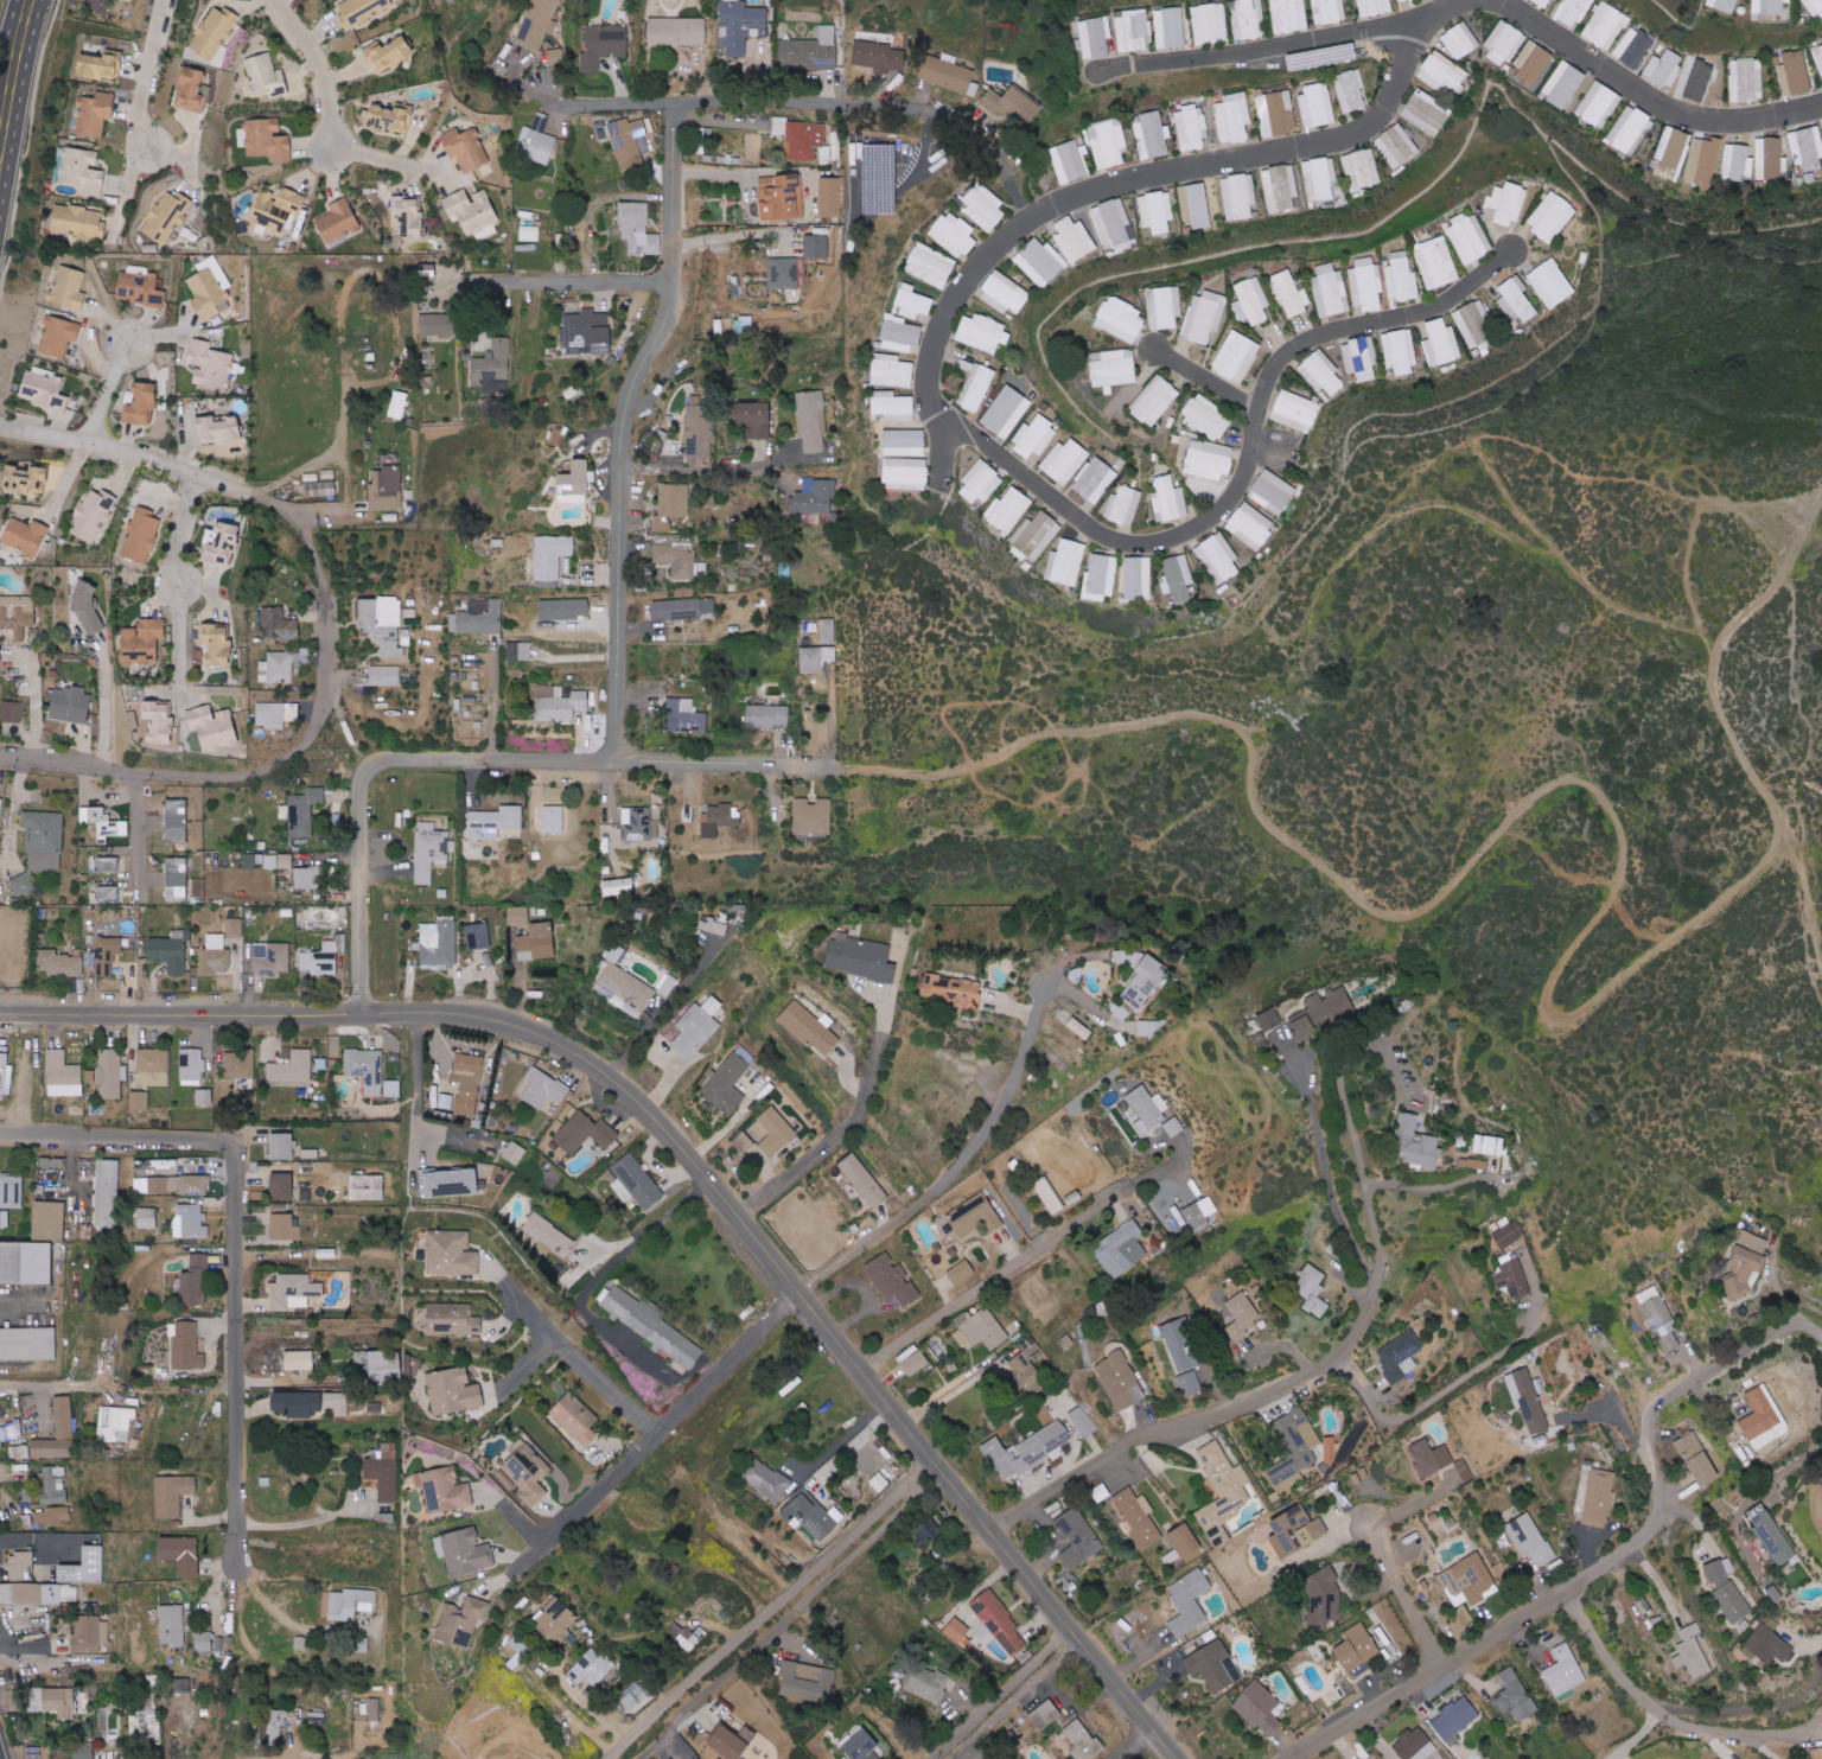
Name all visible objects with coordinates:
building: (1400, 0)
building: (1721, 5)
building: (98, 6)
building: (1376, 6)
road: (1469, 7)
building: (1769, 7)
building: (1814, 8)
building: (361, 11)
building: (1330, 11)
building: (1574, 11)
building: (1289, 15)
building: (1249, 19)
building: (539, 23)
building: (1211, 24)
building: (743, 25)
building: (1606, 26)
building: (1173, 30)
building: (677, 31)
building: (1133, 31)
building: (215, 33)
road: (11, 34)
building: (1096, 37)
building: (1460, 40)
building: (1503, 43)
building: (604, 45)
building: (1635, 47)
building: (810, 50)
building: (389, 53)
building: (503, 56)
building: (878, 56)
building: (1818, 56)
building: (556, 57)
building: (1531, 63)
building: (101, 64)
road: (320, 68)
building: (1665, 68)
building: (1441, 72)
building: (1795, 74)
road: (13, 76)
building: (949, 76)
building: (266, 77)
building: (1699, 78)
road: (149, 79)
building: (1747, 81)
building: (1563, 84)
building: (192, 89)
building: (1350, 90)
building: (1013, 104)
building: (1317, 104)
building: (1598, 104)
building: (94, 113)
building: (1426, 113)
building: (1278, 114)
road: (771, 116)
building: (390, 117)
building: (1235, 117)
building: (1192, 127)
building: (1630, 130)
building: (1153, 135)
building: (799, 138)
building: (268, 140)
building: (537, 140)
building: (627, 140)
building: (1109, 142)
building: (1397, 145)
building: (466, 148)
building: (1807, 148)
building: (1769, 159)
road: (388, 160)
building: (1071, 161)
building: (1737, 162)
building: (1362, 168)
building: (82, 171)
building: (1319, 178)
building: (880, 179)
building: (1280, 187)
road: (1106, 189)
building: (1241, 196)
building: (779, 197)
building: (830, 197)
building: (1509, 204)
building: (1195, 205)
building: (985, 209)
building: (278, 210)
building: (1157, 211)
building: (473, 213)
building: (409, 215)
building: (167, 217)
building: (1552, 217)
building: (338, 221)
building: (78, 222)
building: (1113, 223)
building: (639, 229)
building: (529, 232)
building: (954, 234)
building: (1470, 238)
building: (1074, 240)
building: (816, 247)
building: (529, 249)
building: (1040, 262)
building: (1436, 263)
building: (931, 265)
building: (426, 269)
building: (783, 273)
building: (1401, 278)
road: (562, 280)
building: (1552, 283)
building: (140, 287)
building: (69, 288)
building: (210, 288)
building: (1006, 291)
building: (1331, 291)
building: (1292, 293)
building: (1251, 300)
building: (913, 301)
building: (1516, 301)
building: (1164, 307)
building: (1204, 317)
building: (1121, 319)
building: (1473, 324)
building: (437, 325)
building: (587, 332)
building: (982, 333)
building: (902, 334)
building: (58, 336)
building: (1440, 343)
building: (1400, 351)
building: (1236, 356)
building: (1361, 358)
building: (210, 364)
building: (492, 367)
building: (1114, 369)
building: (892, 371)
building: (1321, 374)
road: (1208, 378)
building: (977, 387)
building: (45, 389)
road: (115, 395)
building: (1155, 401)
building: (141, 403)
building: (400, 403)
building: (893, 407)
building: (1006, 412)
building: (1294, 412)
building: (1206, 416)
building: (756, 419)
building: (811, 422)
building: (219, 429)
road: (625, 431)
building: (697, 432)
building: (1033, 438)
building: (1065, 460)
building: (1209, 460)
road: (1247, 465)
road: (701, 470)
building: (905, 473)
building: (26, 479)
building: (1095, 480)
building: (980, 482)
building: (575, 483)
building: (318, 485)
building: (387, 487)
building: (1272, 492)
building: (814, 499)
building: (1168, 501)
building: (671, 504)
building: (1123, 504)
building: (1009, 510)
building: (91, 515)
building: (1250, 525)
road: (180, 528)
building: (141, 535)
building: (26, 536)
building: (1034, 536)
building: (223, 543)
building: (550, 555)
building: (1218, 555)
building: (677, 560)
building: (1065, 562)
building: (1100, 576)
building: (1178, 579)
building: (683, 608)
building: (565, 610)
building: (17, 614)
building: (410, 617)
building: (478, 617)
building: (382, 623)
building: (279, 625)
building: (827, 631)
road: (326, 633)
road: (178, 640)
building: (144, 642)
building: (217, 644)
building: (520, 651)
building: (0, 654)
building: (816, 658)
building: (278, 668)
building: (384, 676)
road: (492, 703)
building: (558, 703)
building: (71, 705)
road: (103, 705)
building: (12, 712)
building: (276, 714)
building: (767, 715)
building: (684, 716)
building: (133, 720)
road: (830, 720)
building: (160, 722)
building: (212, 727)
road: (1191, 739)
building: (0, 809)
building: (304, 811)
building: (814, 817)
building: (553, 818)
building: (720, 818)
building: (177, 821)
building: (495, 822)
building: (103, 823)
building: (638, 824)
road: (249, 826)
road: (136, 836)
building: (40, 846)
building: (431, 852)
building: (279, 861)
building: (253, 862)
building: (108, 865)
building: (307, 878)
building: (177, 880)
building: (618, 886)
building: (108, 894)
building: (518, 916)
building: (714, 926)
building: (234, 928)
building: (478, 936)
building: (542, 939)
building: (439, 942)
building: (170, 952)
building: (108, 955)
building: (215, 955)
building: (324, 957)
building: (272, 958)
building: (861, 958)
building: (59, 963)
building: (1076, 976)
building: (1143, 983)
building: (624, 986)
building: (667, 986)
building: (954, 992)
building: (1119, 1011)
building: (1323, 1013)
building: (1269, 1020)
building: (696, 1027)
building: (809, 1028)
building: (1079, 1028)
building: (238, 1064)
building: (153, 1066)
building: (191, 1066)
building: (292, 1067)
building: (367, 1067)
building: (112, 1072)
building: (5, 1075)
building: (63, 1075)
building: (467, 1082)
building: (726, 1084)
road: (416, 1086)
building: (393, 1088)
building: (543, 1088)
building: (204, 1096)
building: (139, 1100)
building: (445, 1101)
building: (1148, 1108)
building: (1173, 1127)
road: (846, 1128)
building: (776, 1130)
building: (585, 1133)
building: (744, 1141)
building: (282, 1145)
building: (1416, 1145)
building: (1487, 1145)
building: (515, 1152)
building: (310, 1153)
road: (955, 1166)
building: (50, 1168)
road: (697, 1174)
building: (864, 1180)
building: (450, 1181)
building: (635, 1181)
building: (173, 1184)
road: (1400, 1184)
building: (282, 1185)
building: (11, 1192)
building: (107, 1193)
road: (1333, 1200)
building: (975, 1216)
building: (1179, 1216)
building: (1196, 1216)
building: (147, 1217)
building: (4, 1218)
building: (49, 1219)
building: (191, 1221)
building: (284, 1223)
building: (544, 1236)
building: (1506, 1236)
road: (232, 1239)
building: (1753, 1241)
building: (1121, 1249)
building: (326, 1253)
building: (451, 1253)
building: (26, 1262)
road: (1021, 1266)
building: (962, 1272)
building: (1744, 1273)
road: (600, 1275)
building: (1512, 1277)
building: (892, 1279)
building: (195, 1280)
building: (1312, 1289)
building: (293, 1290)
road: (19, 1305)
building: (1242, 1309)
building: (453, 1319)
building: (1659, 1320)
building: (652, 1325)
building: (985, 1328)
building: (1599, 1338)
building: (27, 1343)
building: (1179, 1344)
building: (186, 1346)
building: (1400, 1356)
building: (361, 1358)
building: (299, 1359)
building: (916, 1362)
building: (384, 1365)
building: (1023, 1366)
road: (59, 1381)
building: (1120, 1381)
building: (1189, 1382)
road: (600, 1383)
building: (453, 1391)
road: (953, 1395)
road: (1435, 1397)
building: (1528, 1401)
building: (298, 1403)
building: (375, 1407)
building: (575, 1417)
building: (1764, 1419)
building: (1083, 1421)
building: (115, 1423)
road: (661, 1426)
road: (1155, 1430)
building: (9, 1432)
building: (58, 1432)
road: (839, 1442)
building: (1294, 1445)
building: (1027, 1449)
building: (1429, 1457)
building: (1697, 1459)
road: (1788, 1468)
building: (1464, 1470)
building: (384, 1472)
building: (528, 1473)
road: (12, 1474)
building: (766, 1479)
building: (879, 1483)
building: (53, 1484)
building: (445, 1489)
building: (1222, 1490)
building: (1101, 1492)
building: (173, 1493)
building: (1598, 1498)
building: (810, 1515)
building: (52, 1516)
building: (1138, 1517)
road: (292, 1524)
building: (1295, 1531)
building: (1770, 1534)
building: (1077, 1537)
building: (1529, 1540)
road: (32, 1541)
building: (1184, 1541)
building: (464, 1551)
building: (181, 1553)
road: (1619, 1554)
building: (1171, 1556)
building: (19, 1564)
building: (84, 1567)
building: (0, 1573)
building: (1469, 1581)
building: (1727, 1589)
building: (38, 1593)
road: (1402, 1593)
building: (1324, 1597)
building: (1189, 1601)
road: (216, 1602)
building: (350, 1604)
road: (773, 1610)
road: (285, 1613)
road: (790, 1615)
building: (558, 1619)
building: (461, 1620)
building: (1000, 1623)
building: (172, 1625)
building: (958, 1631)
building: (90, 1634)
building: (204, 1642)
road: (32, 1645)
building: (1769, 1645)
building: (1357, 1650)
building: (518, 1652)
building: (1692, 1652)
building: (1213, 1664)
building: (591, 1666)
building: (1563, 1671)
building: (807, 1681)
building: (929, 1681)
building: (1515, 1695)
building: (638, 1697)
building: (60, 1702)
road: (1021, 1704)
building: (1051, 1706)
building: (1260, 1707)
building: (374, 1709)
building: (317, 1712)
road: (1665, 1712)
building: (1454, 1720)
building: (145, 1725)
building: (276, 1725)
road: (1638, 1736)
building: (732, 1741)
building: (1083, 1741)
road: (1126, 1741)
building: (864, 1746)
building: (1416, 1746)
building: (83, 1752)
building: (719, 1758)

